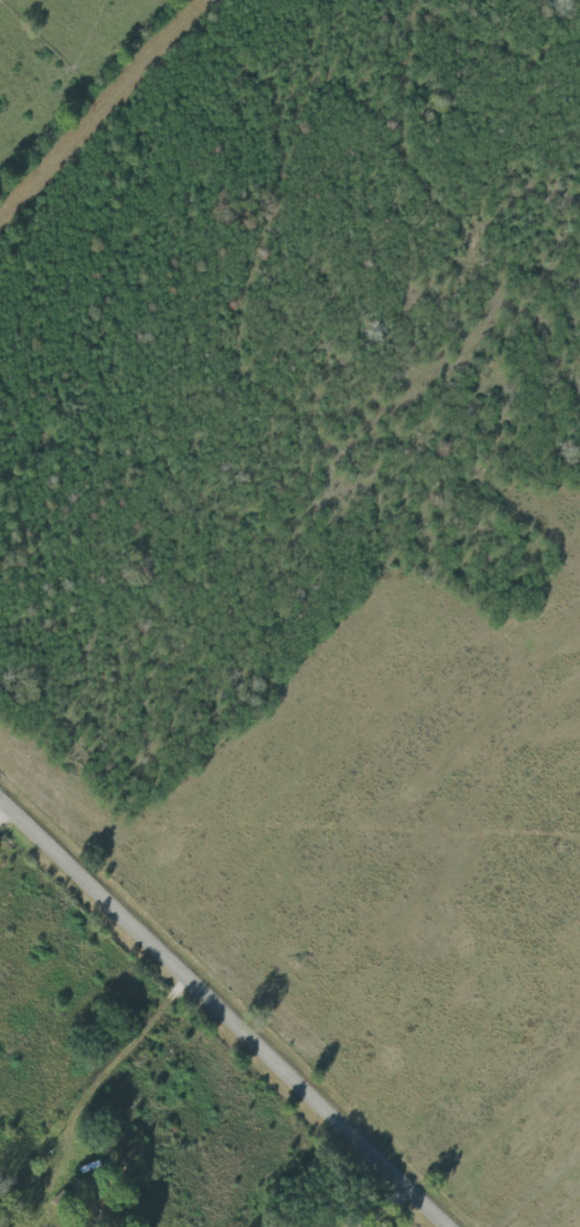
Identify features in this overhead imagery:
road: (6, 812)
road: (230, 1011)

